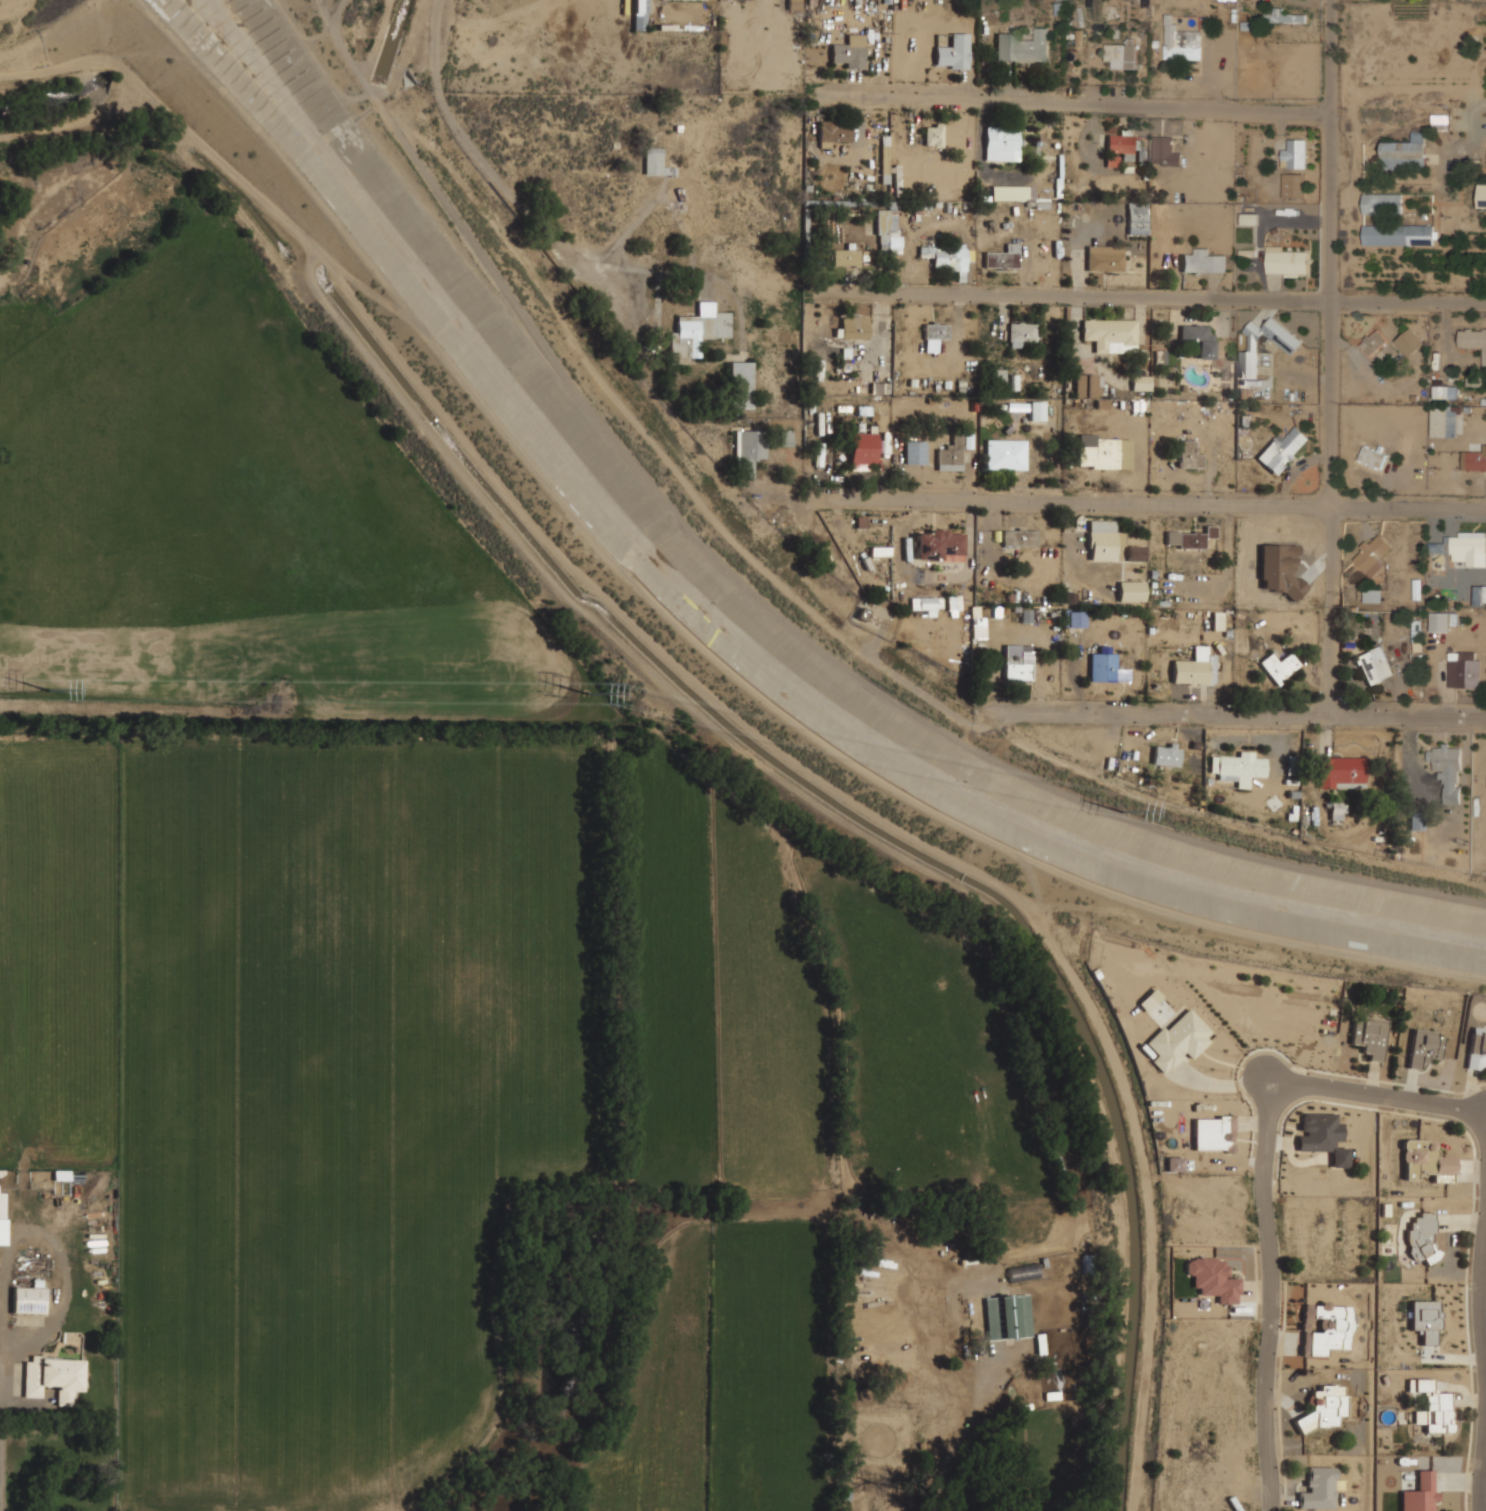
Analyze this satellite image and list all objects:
road: (4, 4)
building: (793, 4)
road: (335, 6)
building: (1284, 16)
building: (639, 24)
building: (1181, 41)
building: (1023, 46)
building: (850, 51)
building: (953, 52)
building: (1122, 53)
road: (1070, 101)
building: (1441, 121)
building: (833, 132)
building: (934, 134)
building: (1001, 142)
building: (1122, 143)
building: (1165, 151)
building: (1406, 152)
building: (1294, 154)
building: (1112, 160)
building: (655, 161)
building: (885, 162)
building: (1294, 185)
building: (1009, 193)
building: (1482, 196)
building: (1382, 203)
building: (1138, 218)
building: (1249, 218)
road: (542, 227)
building: (889, 230)
building: (1399, 234)
building: (846, 257)
building: (946, 257)
building: (1004, 257)
building: (1105, 260)
building: (1204, 262)
building: (1287, 263)
road: (1150, 297)
building: (856, 327)
building: (698, 331)
building: (1021, 333)
building: (934, 334)
building: (1111, 335)
building: (780, 336)
building: (1199, 338)
building: (1472, 339)
building: (1409, 341)
building: (1374, 342)
building: (1289, 346)
road: (1336, 358)
building: (820, 365)
building: (1000, 375)
building: (1142, 382)
building: (740, 385)
building: (1089, 385)
building: (875, 387)
building: (1445, 392)
building: (1038, 411)
building: (1444, 422)
building: (786, 438)
building: (864, 450)
building: (1282, 450)
building: (748, 451)
building: (915, 452)
building: (1006, 454)
building: (1100, 454)
building: (1190, 454)
building: (951, 456)
building: (1372, 456)
building: (1477, 460)
road: (1150, 505)
building: (859, 521)
building: (1020, 537)
building: (1190, 537)
building: (1104, 540)
building: (1463, 542)
building: (939, 545)
building: (1440, 546)
building: (1136, 553)
building: (1373, 554)
building: (1133, 589)
building: (1373, 595)
building: (1480, 595)
building: (929, 605)
building: (1026, 616)
road: (778, 618)
building: (1077, 618)
building: (1440, 622)
building: (1416, 627)
building: (1280, 665)
building: (1374, 665)
building: (1103, 667)
building: (1192, 667)
building: (1019, 669)
building: (1464, 669)
power tower: (49, 692)
power tower: (590, 695)
road: (145, 709)
road: (1233, 714)
building: (1167, 754)
building: (1240, 767)
building: (1448, 771)
building: (1342, 772)
power tower: (1118, 810)
crop: (420, 964)
building: (1370, 1036)
building: (1180, 1039)
building: (1425, 1048)
building: (1477, 1049)
road: (1380, 1096)
building: (1320, 1132)
building: (1214, 1133)
building: (1425, 1161)
building: (1174, 1164)
building: (3, 1218)
building: (1422, 1237)
building: (1023, 1273)
building: (1214, 1278)
road: (1484, 1283)
road: (1271, 1295)
building: (30, 1298)
building: (1007, 1317)
building: (1425, 1320)
building: (1324, 1328)
road: (393, 1329)
building: (55, 1378)
building: (1422, 1385)
building: (941, 1406)
building: (1324, 1408)
building: (1437, 1413)
building: (884, 1447)
building: (1320, 1489)
road: (1484, 1493)
building: (1420, 1494)

